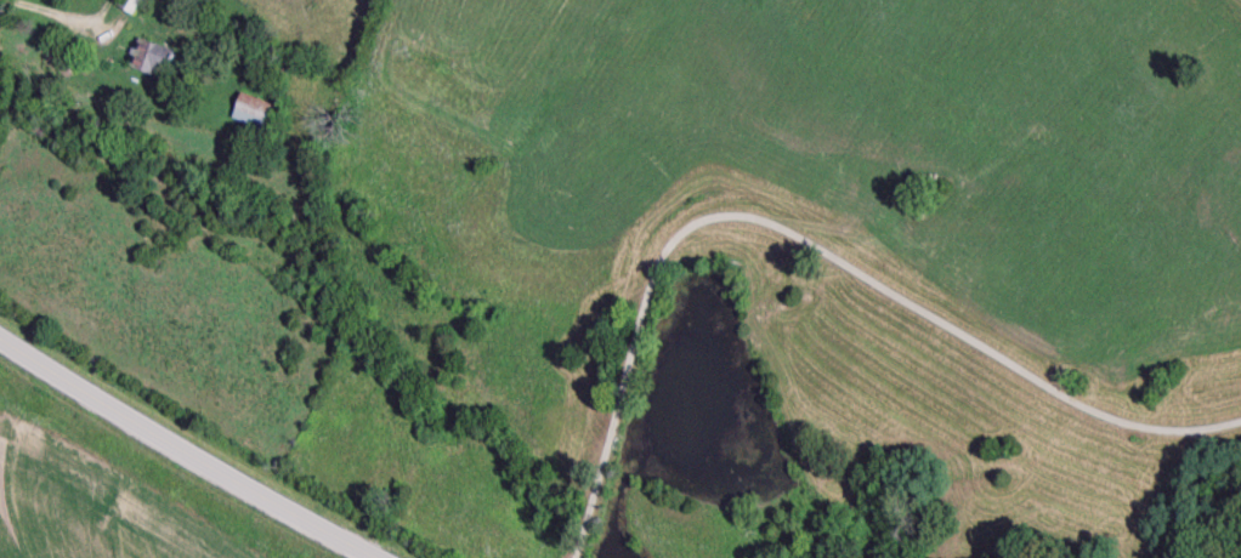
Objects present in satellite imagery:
building: (130, 6)
building: (153, 61)
building: (255, 115)
road: (172, 456)

